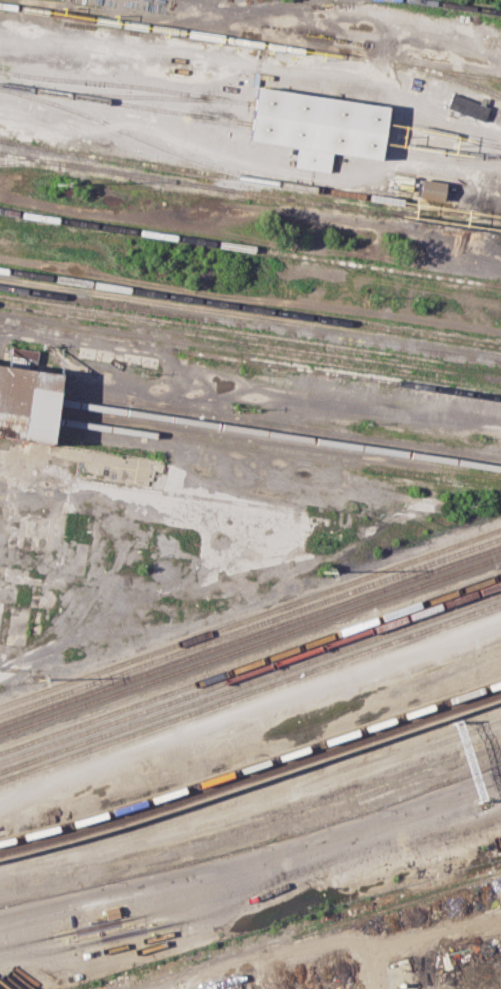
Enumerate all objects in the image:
railway: (464, 5)
railway: (213, 16)
railway: (252, 41)
building: (466, 106)
railway: (250, 110)
railway: (196, 114)
building: (317, 126)
railway: (27, 162)
railway: (250, 178)
building: (431, 189)
railway: (250, 191)
railway: (250, 248)
railway: (250, 308)
railway: (250, 316)
railway: (250, 324)
railway: (250, 331)
railway: (250, 340)
railway: (250, 349)
building: (22, 357)
railway: (250, 360)
building: (27, 401)
railway: (279, 423)
railway: (278, 435)
railway: (277, 444)
railway: (277, 453)
road: (2, 514)
railway: (251, 619)
railway: (250, 626)
railway: (250, 634)
railway: (250, 644)
railway: (250, 663)
railway: (250, 672)
railway: (250, 682)
railway: (250, 691)
railway: (251, 765)
railway: (251, 776)
road: (253, 858)
railway: (311, 930)

